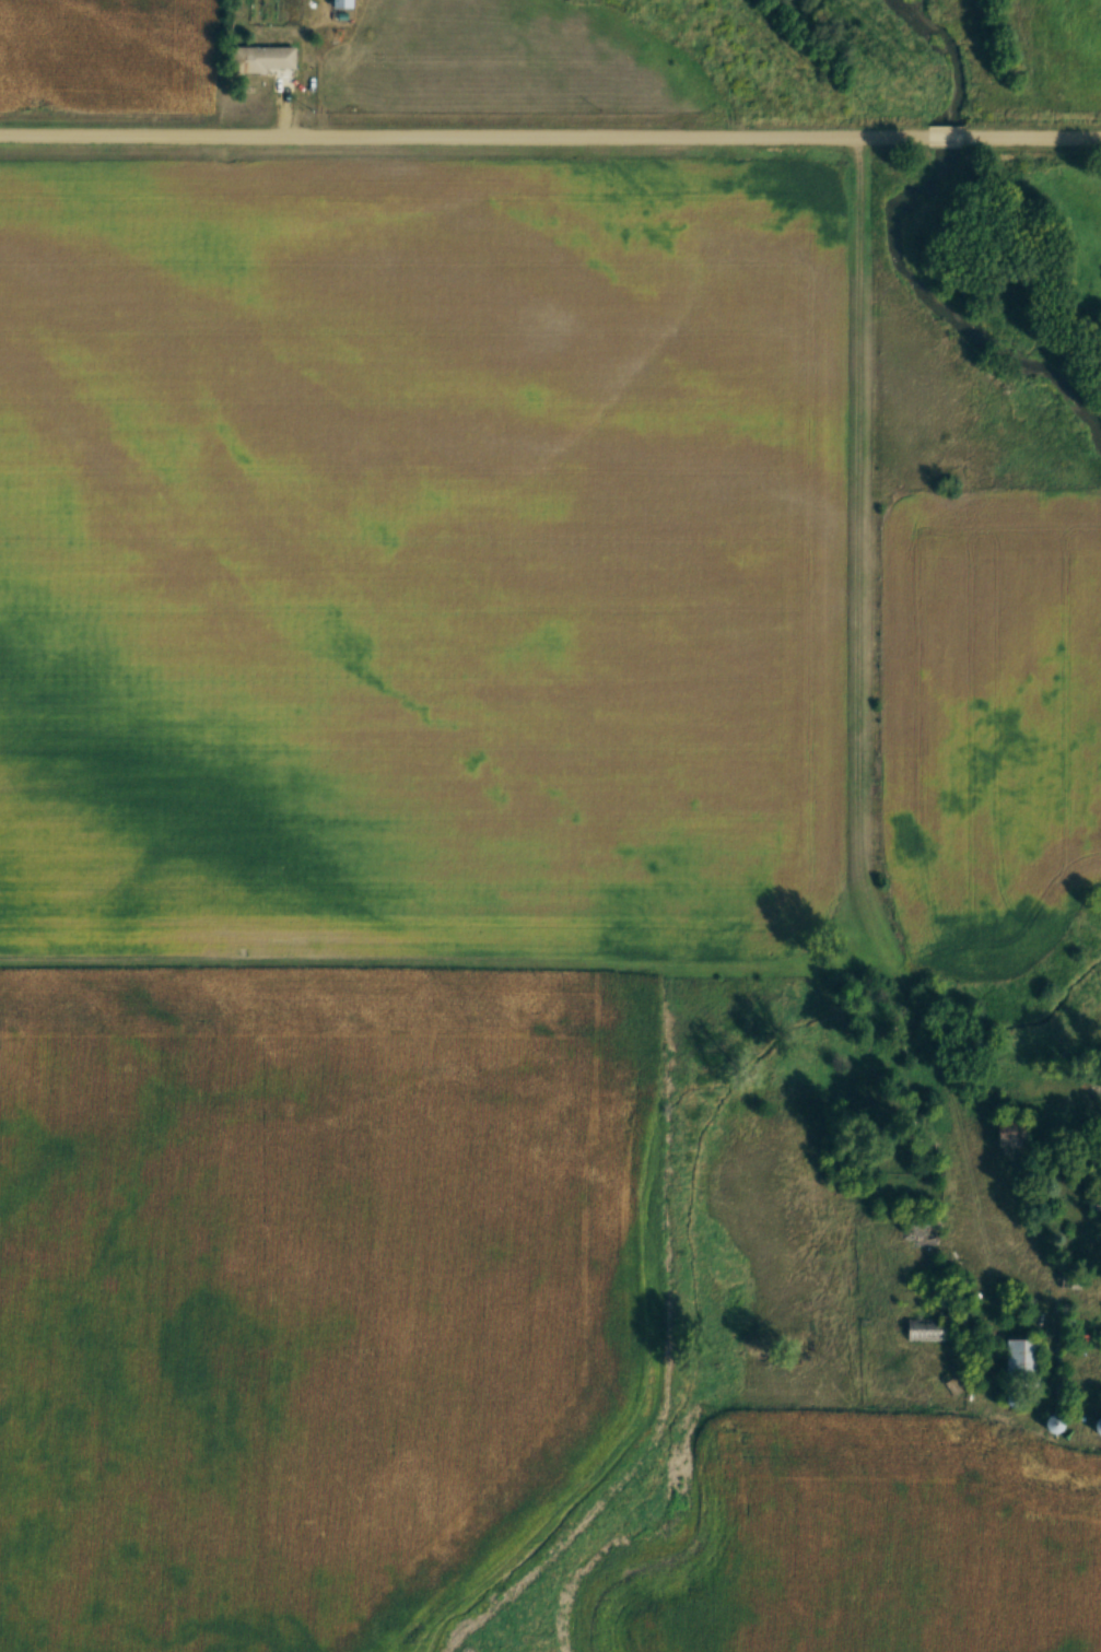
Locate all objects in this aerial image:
building: (344, 4)
building: (263, 59)
road: (945, 139)
road: (1032, 139)
road: (462, 140)
road: (857, 758)
building: (1010, 1132)
building: (1096, 1210)
building: (926, 1331)
building: (1026, 1363)
building: (1017, 1399)
building: (1056, 1423)
building: (1098, 1427)

